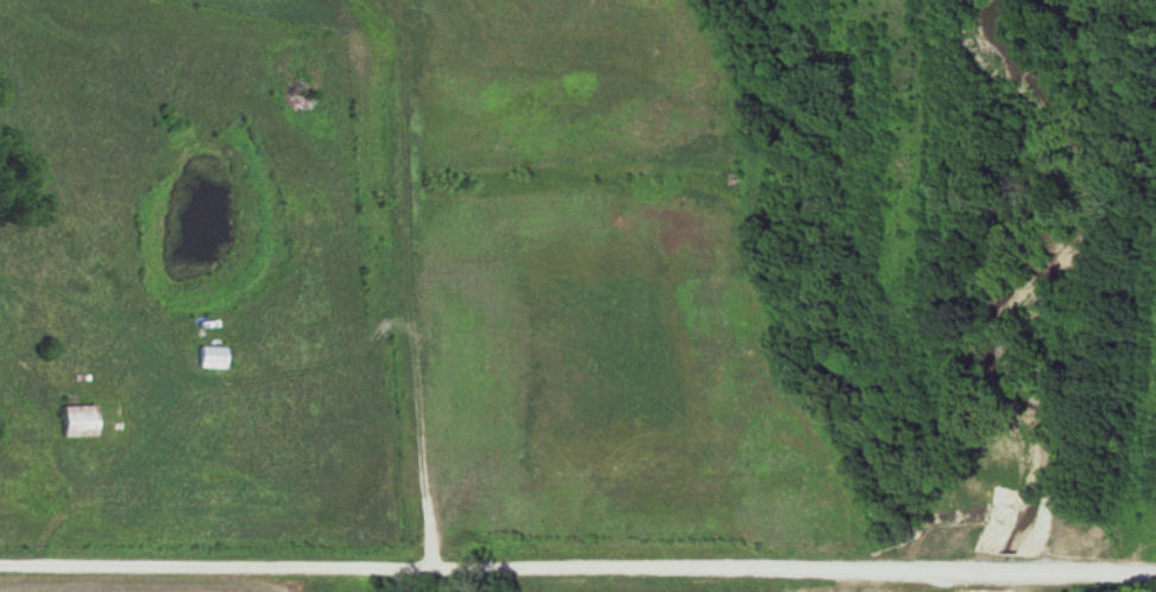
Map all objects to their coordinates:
building: (213, 357)
building: (78, 421)
road: (479, 571)
road: (1098, 572)
road: (1000, 573)

